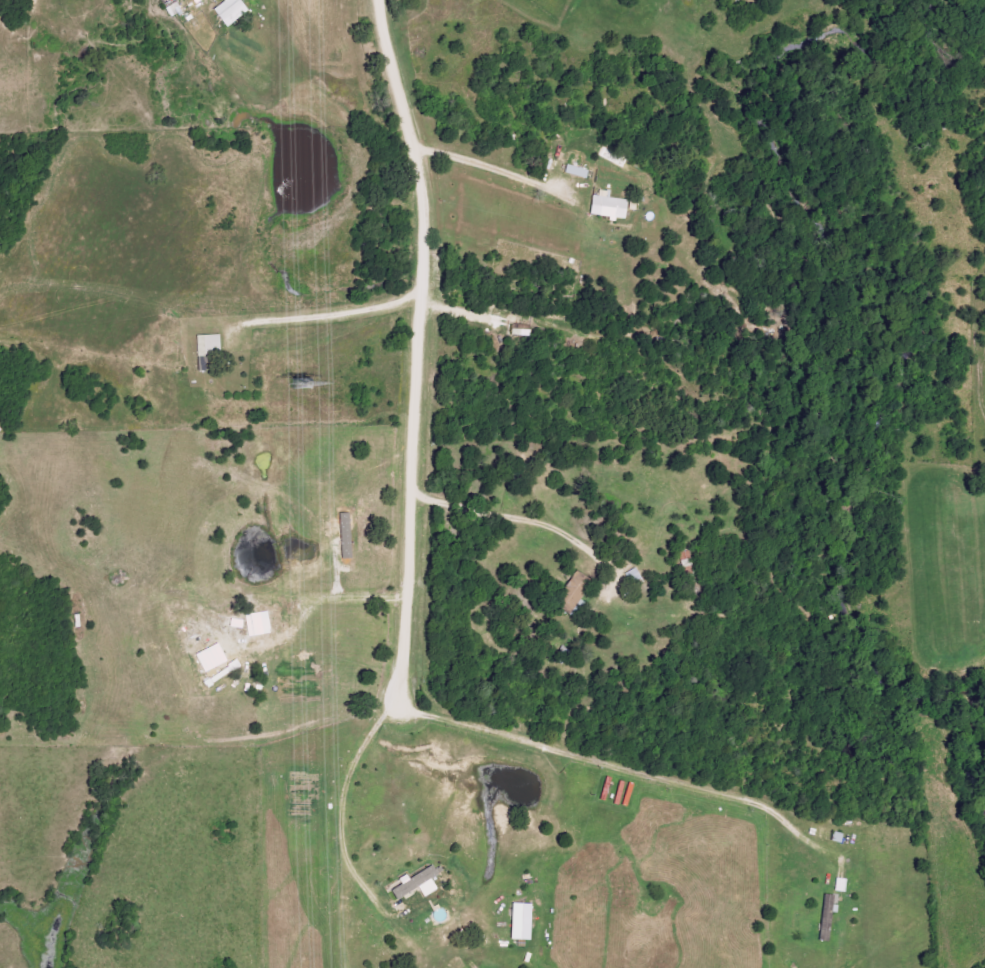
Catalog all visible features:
building: (229, 11)
building: (576, 171)
building: (607, 205)
building: (210, 344)
road: (415, 351)
power tower: (300, 382)
building: (344, 536)
building: (572, 591)
building: (257, 623)
building: (209, 658)
building: (416, 884)
building: (520, 922)

